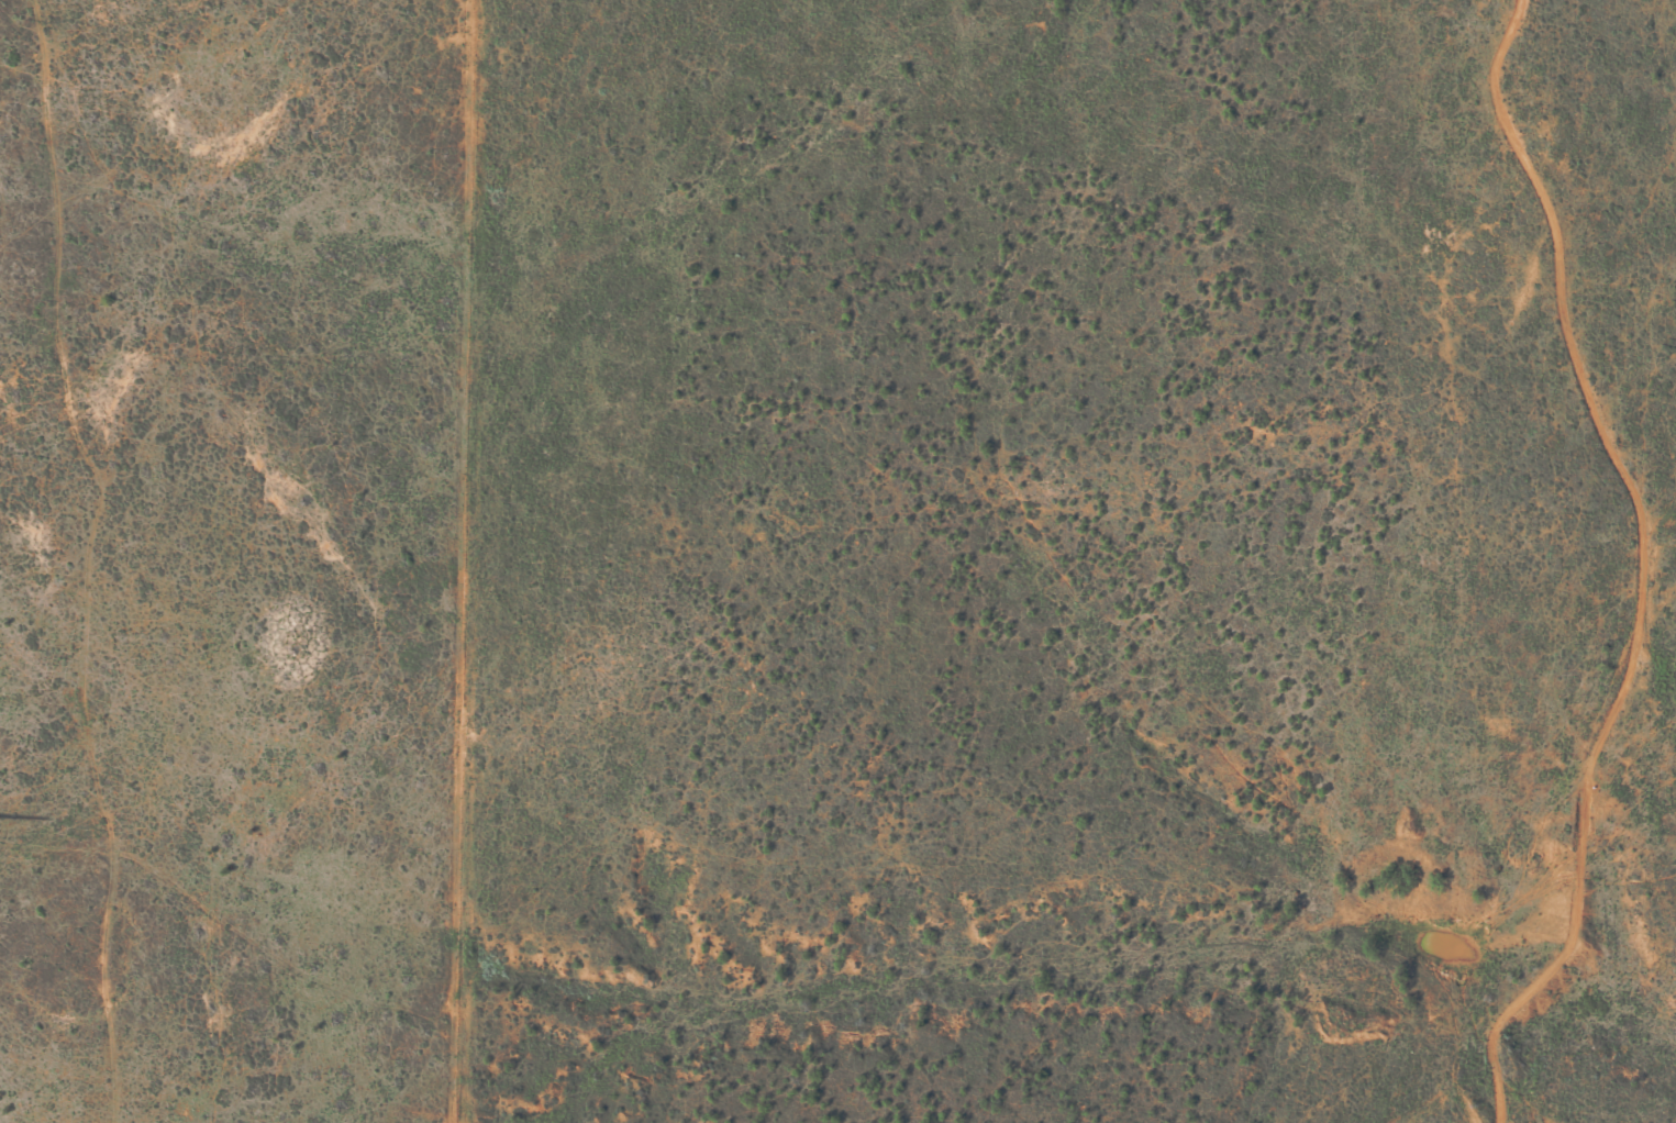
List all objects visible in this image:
road: (1620, 258)
road: (85, 561)
road: (1635, 860)

